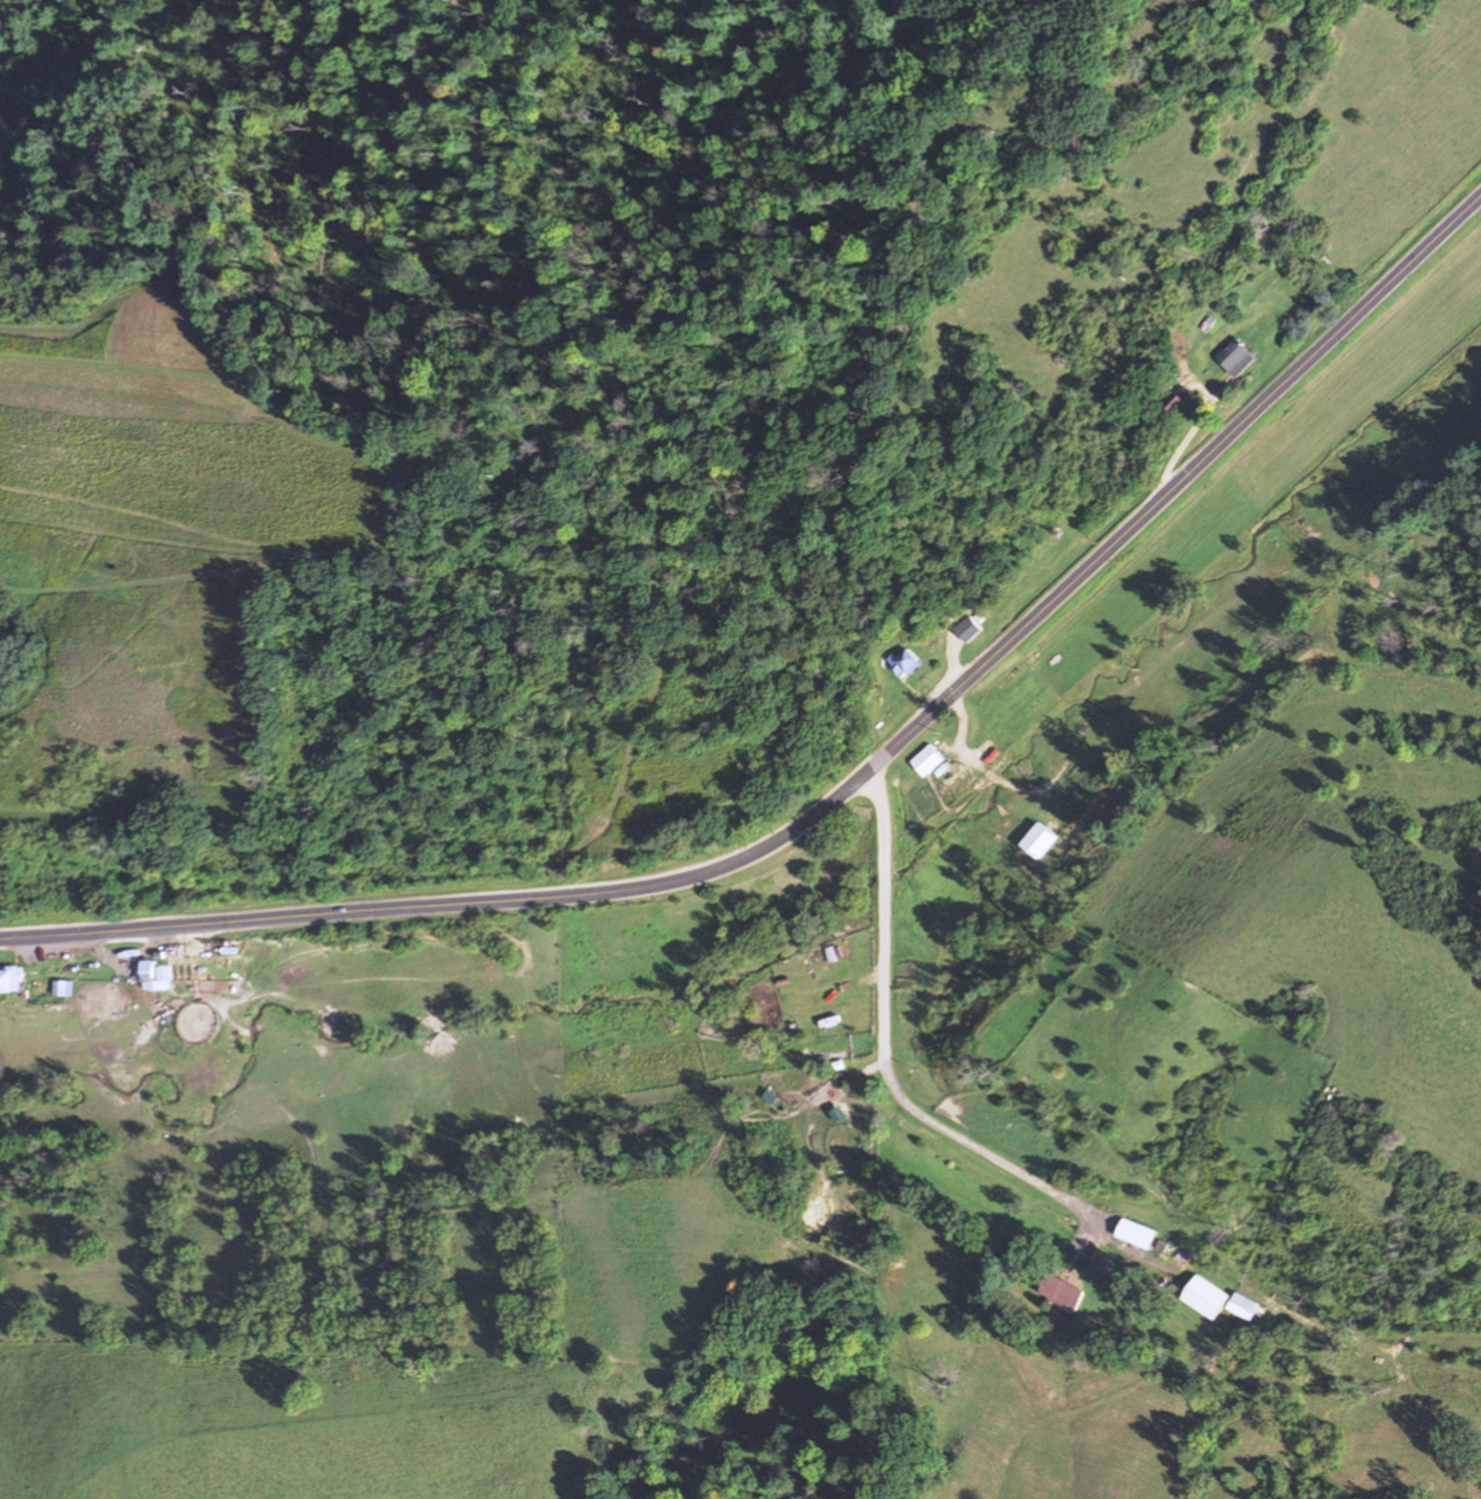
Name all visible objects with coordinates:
building: (1242, 356)
building: (1177, 402)
road: (1189, 428)
building: (970, 628)
road: (952, 655)
building: (907, 661)
road: (974, 757)
building: (930, 760)
road: (844, 785)
building: (1038, 841)
road: (128, 952)
building: (147, 971)
building: (11, 981)
building: (62, 988)
road: (886, 1063)
building: (770, 1098)
building: (840, 1114)
building: (1138, 1235)
building: (1061, 1293)
building: (1208, 1298)
building: (1251, 1306)

